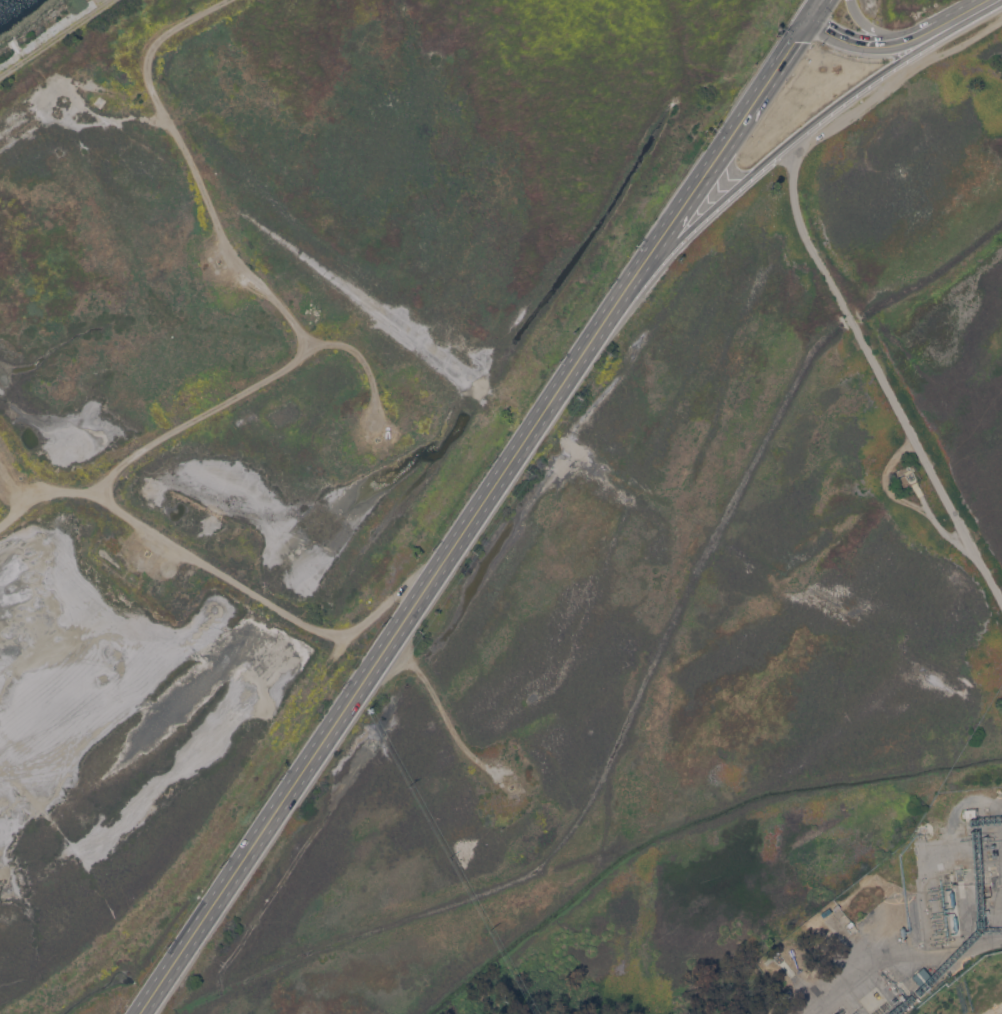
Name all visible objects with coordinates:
road: (981, 2)
road: (105, 4)
road: (815, 10)
road: (953, 14)
traffic signals: (808, 21)
road: (883, 32)
road: (49, 42)
road: (868, 46)
road: (894, 83)
road: (75, 98)
building: (100, 101)
road: (92, 112)
road: (66, 125)
road: (801, 131)
road: (722, 146)
road: (258, 281)
road: (313, 340)
road: (361, 359)
road: (880, 374)
road: (9, 481)
road: (884, 483)
road: (28, 488)
road: (107, 493)
road: (935, 521)
road: (175, 545)
road: (436, 570)
road: (376, 613)
road: (339, 638)
road: (441, 712)
road: (968, 804)
building: (969, 812)
building: (923, 835)
building: (952, 898)
building: (836, 907)
building: (954, 922)
building: (902, 931)
road: (187, 942)
road: (894, 961)
building: (922, 976)
road: (997, 1011)

